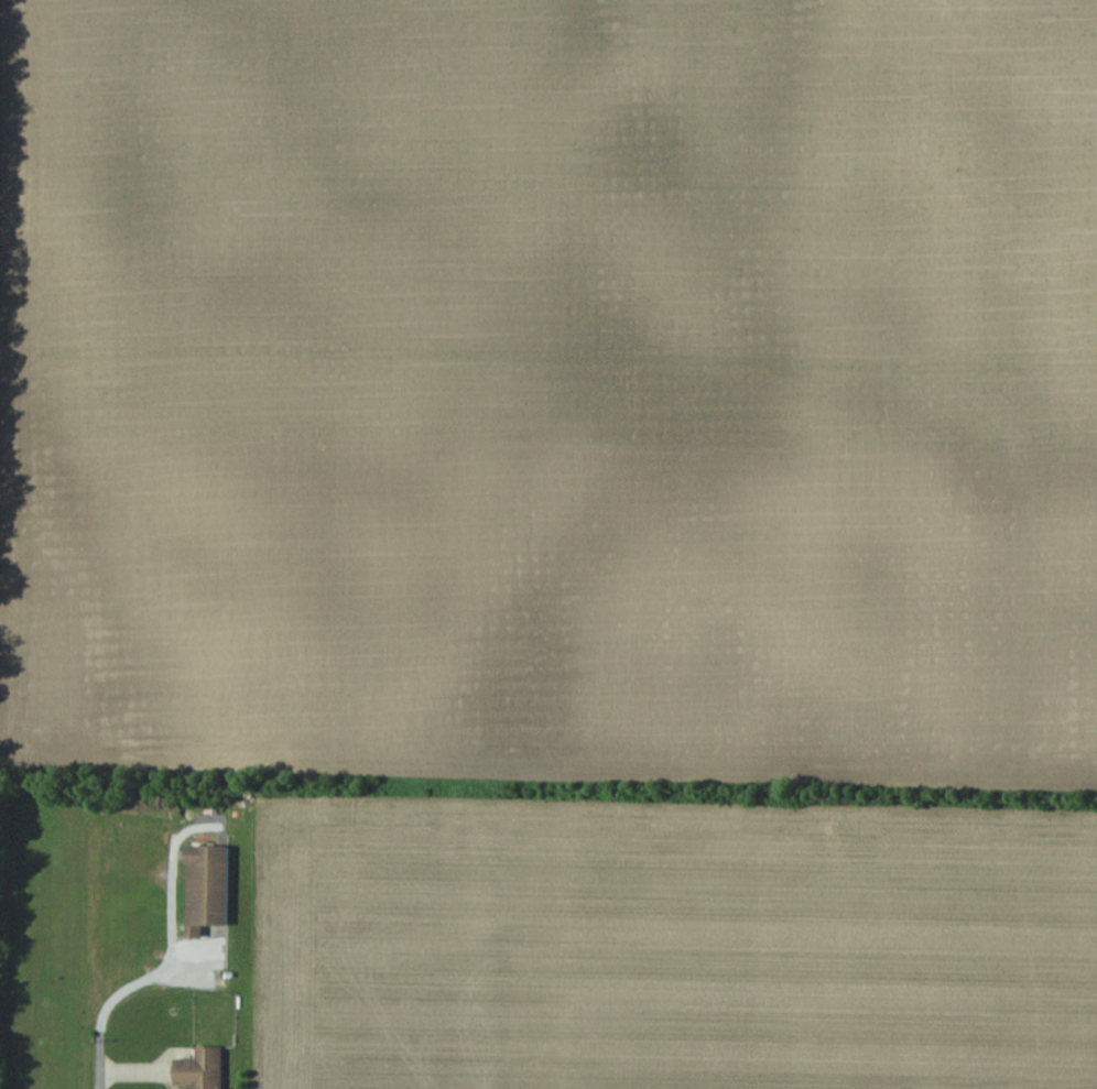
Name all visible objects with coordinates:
crop: (579, 515)
building: (207, 887)
building: (202, 1069)
road: (99, 1081)

